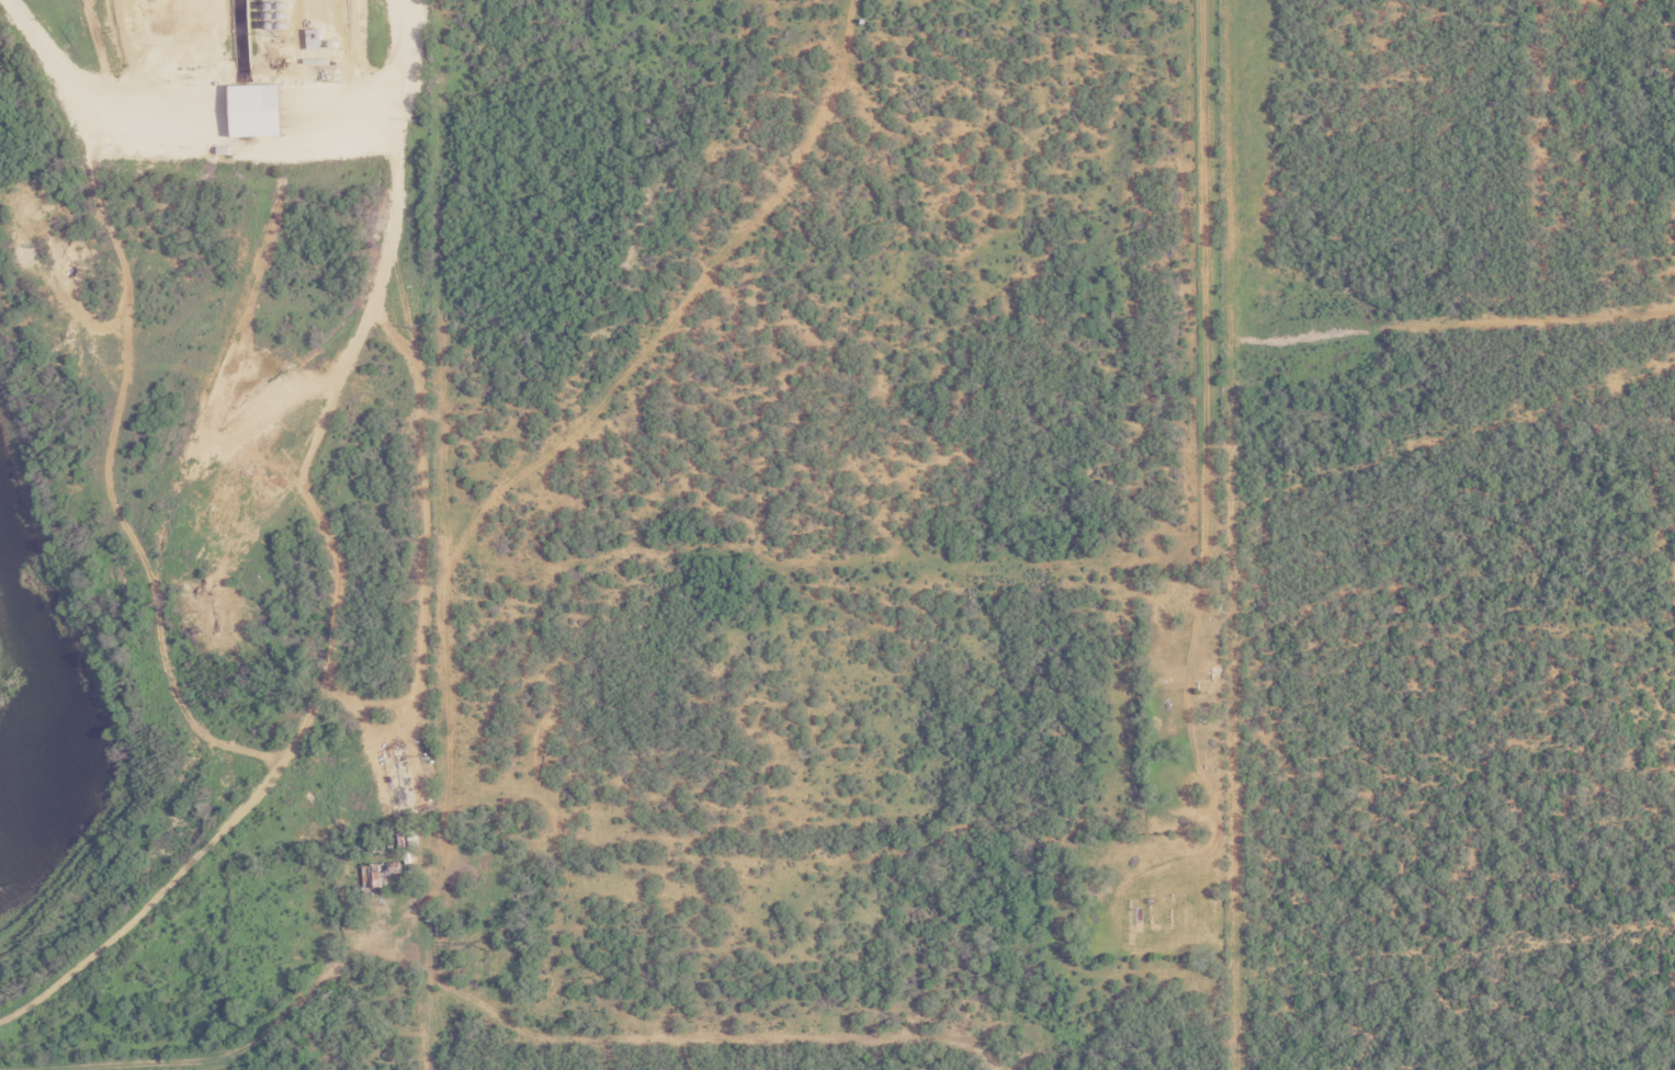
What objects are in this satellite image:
road: (1203, 418)
building: (385, 870)
park: (1150, 895)
road: (254, 1041)

